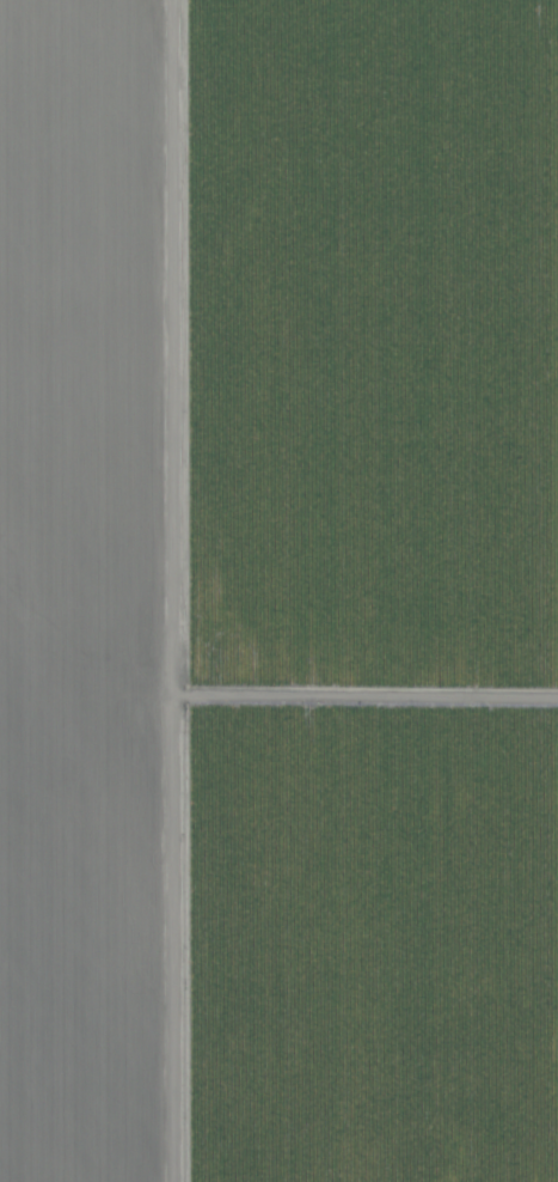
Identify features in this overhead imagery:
crop: (278, 591)

